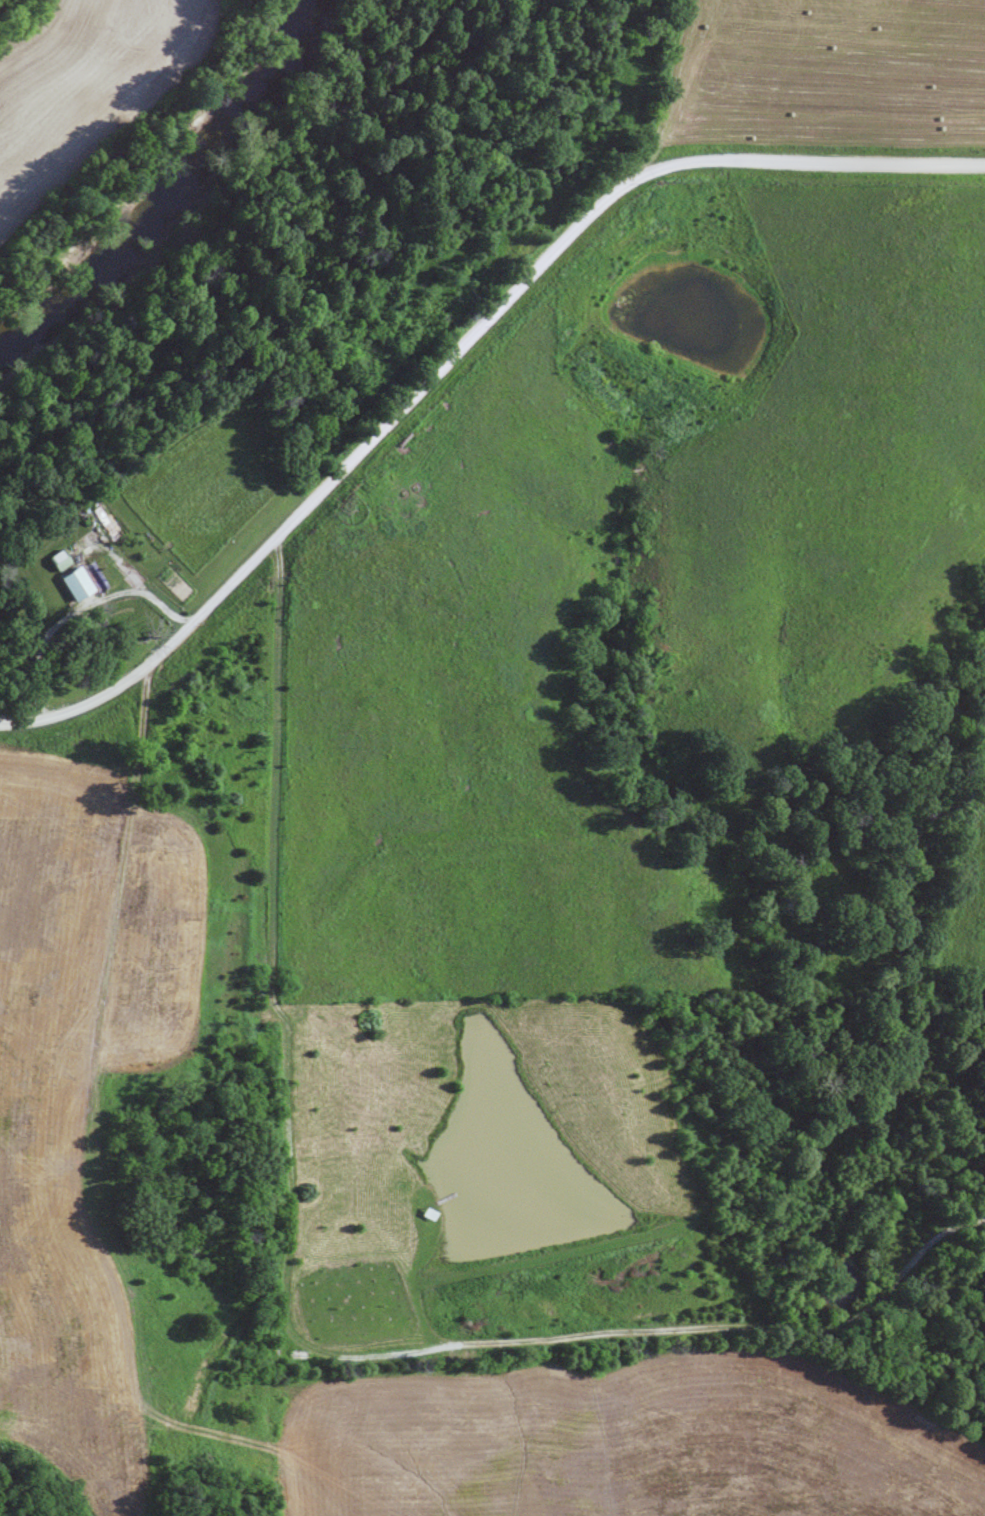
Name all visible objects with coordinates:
river: (163, 188)
road: (468, 387)
building: (106, 523)
building: (61, 559)
building: (77, 583)

